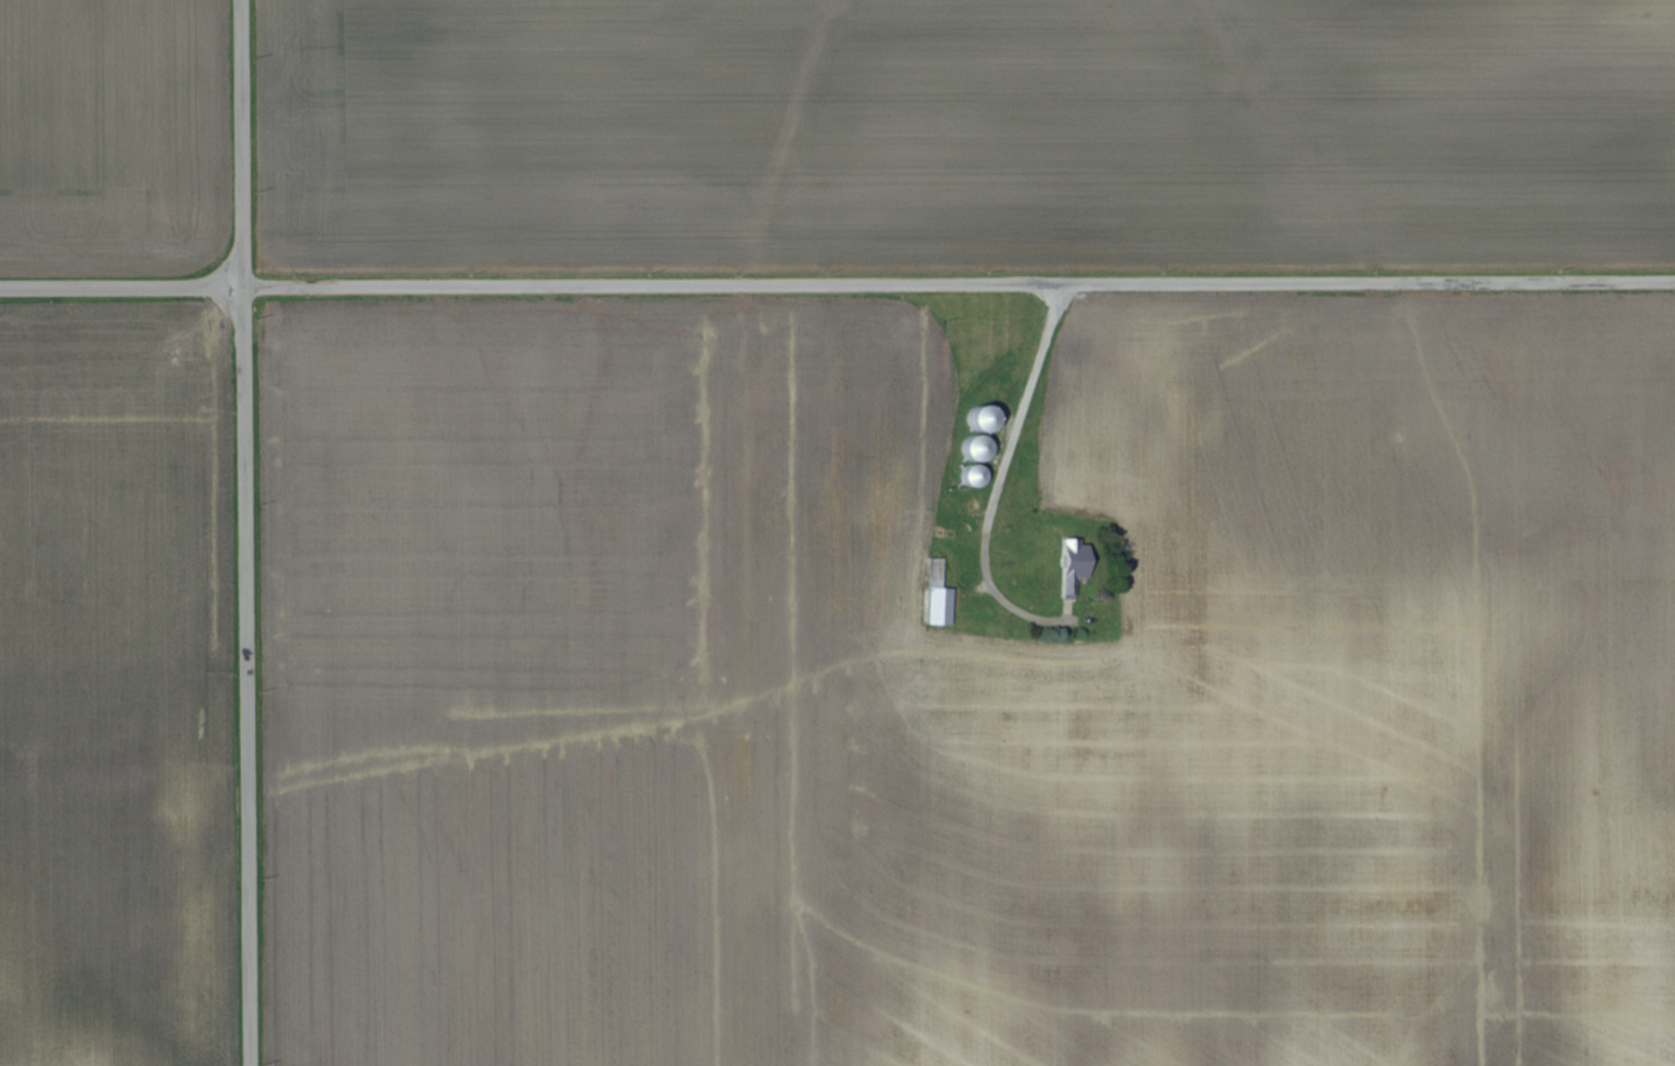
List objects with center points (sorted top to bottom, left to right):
road: (837, 288)
road: (1000, 478)
road: (242, 532)
building: (1072, 562)
building: (939, 596)

